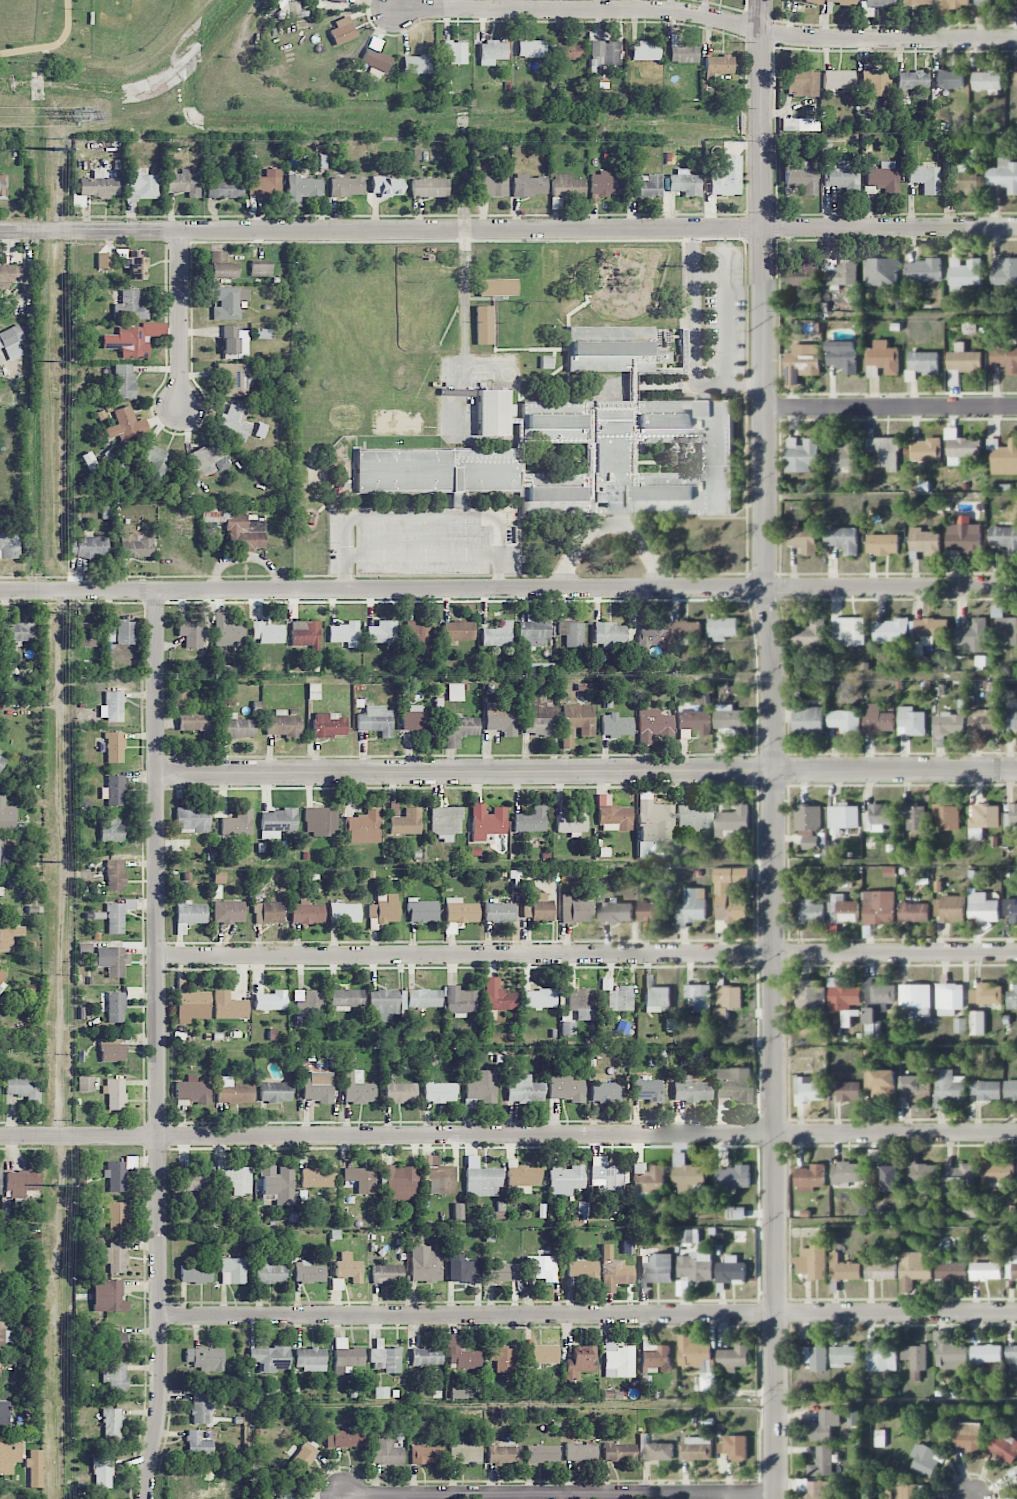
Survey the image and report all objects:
building: (344, 0)
building: (807, 2)
building: (841, 2)
building: (879, 2)
building: (917, 2)
building: (991, 2)
building: (1016, 3)
building: (949, 6)
building: (289, 9)
road: (707, 15)
building: (342, 31)
park: (89, 33)
building: (531, 48)
building: (569, 50)
building: (455, 51)
building: (645, 51)
building: (492, 52)
building: (604, 53)
building: (683, 54)
building: (376, 55)
building: (417, 64)
building: (719, 64)
building: (1014, 78)
building: (838, 79)
building: (950, 79)
building: (912, 80)
building: (876, 82)
building: (987, 82)
building: (802, 83)
power tower: (85, 115)
building: (799, 124)
power tower: (55, 150)
building: (1003, 175)
building: (726, 176)
building: (880, 176)
building: (802, 178)
building: (925, 178)
building: (842, 179)
building: (963, 181)
building: (184, 183)
building: (265, 183)
building: (492, 183)
building: (605, 183)
building: (684, 183)
building: (140, 184)
building: (98, 185)
building: (528, 185)
building: (645, 185)
building: (347, 186)
building: (385, 186)
building: (567, 186)
building: (3, 187)
building: (429, 187)
building: (225, 188)
building: (302, 189)
road: (508, 229)
building: (105, 260)
building: (133, 262)
building: (222, 265)
building: (261, 267)
building: (879, 269)
building: (841, 271)
building: (923, 271)
building: (1004, 272)
building: (9, 273)
building: (801, 273)
building: (964, 273)
building: (497, 287)
building: (229, 303)
building: (130, 306)
road: (727, 310)
road: (181, 322)
building: (483, 324)
road: (462, 326)
building: (11, 341)
road: (693, 341)
building: (128, 342)
building: (235, 342)
building: (612, 349)
building: (843, 356)
building: (883, 357)
building: (1006, 358)
power tower: (55, 360)
building: (963, 363)
building: (922, 364)
building: (799, 368)
building: (0, 375)
building: (234, 379)
building: (124, 381)
road: (765, 386)
road: (891, 408)
building: (492, 412)
building: (234, 423)
building: (123, 424)
building: (960, 448)
building: (926, 450)
building: (885, 451)
building: (842, 454)
building: (801, 455)
building: (1003, 457)
building: (206, 458)
building: (156, 460)
building: (436, 470)
building: (554, 493)
road: (608, 521)
building: (236, 526)
building: (802, 537)
building: (964, 538)
building: (1004, 538)
building: (843, 539)
building: (923, 542)
building: (883, 544)
building: (9, 545)
building: (88, 546)
building: (136, 546)
road: (423, 551)
road: (508, 590)
power tower: (55, 612)
building: (685, 629)
building: (723, 629)
building: (459, 630)
building: (891, 630)
building: (931, 630)
building: (17, 631)
building: (227, 631)
building: (849, 631)
building: (125, 632)
building: (267, 632)
building: (382, 632)
building: (571, 632)
building: (109, 633)
building: (190, 633)
building: (305, 633)
building: (345, 633)
building: (533, 633)
building: (85, 634)
building: (809, 634)
building: (419, 635)
building: (497, 635)
building: (609, 635)
building: (650, 636)
building: (972, 636)
building: (919, 656)
building: (539, 667)
building: (314, 691)
building: (454, 692)
building: (179, 699)
building: (112, 706)
building: (500, 717)
building: (538, 719)
building: (376, 720)
building: (420, 720)
building: (732, 720)
building: (808, 720)
building: (1010, 720)
building: (845, 721)
building: (878, 721)
building: (197, 722)
building: (575, 722)
building: (694, 722)
building: (911, 722)
building: (984, 722)
building: (282, 724)
building: (329, 725)
building: (615, 725)
building: (653, 726)
building: (236, 727)
building: (947, 727)
building: (459, 729)
building: (114, 747)
building: (2, 758)
road: (895, 771)
road: (465, 772)
building: (114, 790)
building: (613, 815)
building: (913, 815)
building: (946, 816)
building: (7, 817)
building: (878, 817)
building: (693, 818)
building: (808, 818)
building: (843, 818)
building: (1011, 819)
building: (193, 820)
building: (404, 820)
building: (530, 820)
building: (732, 820)
building: (983, 820)
building: (320, 821)
building: (486, 821)
building: (572, 821)
building: (277, 822)
building: (445, 822)
building: (238, 823)
building: (653, 826)
building: (363, 827)
building: (111, 830)
power tower: (55, 863)
building: (115, 874)
building: (1, 890)
building: (730, 894)
building: (692, 907)
building: (879, 907)
building: (384, 908)
building: (983, 908)
building: (539, 909)
building: (575, 909)
building: (843, 909)
building: (950, 909)
building: (1011, 909)
building: (421, 910)
building: (460, 911)
building: (615, 911)
building: (653, 911)
building: (809, 911)
building: (229, 912)
building: (268, 912)
building: (307, 912)
building: (499, 912)
building: (914, 912)
building: (344, 913)
building: (118, 915)
building: (189, 915)
building: (8, 935)
road: (587, 955)
building: (106, 958)
building: (3, 979)
building: (986, 994)
building: (498, 996)
building: (699, 996)
building: (424, 998)
building: (539, 998)
building: (620, 998)
building: (810, 998)
building: (949, 998)
building: (1012, 998)
building: (345, 999)
building: (460, 999)
building: (657, 999)
building: (843, 999)
building: (271, 1000)
building: (727, 1000)
building: (915, 1000)
building: (191, 1003)
building: (582, 1003)
building: (385, 1004)
building: (307, 1005)
building: (876, 1005)
building: (228, 1006)
building: (116, 1007)
building: (977, 1023)
building: (669, 1024)
building: (960, 1026)
building: (568, 1028)
road: (158, 1046)
building: (112, 1050)
building: (806, 1065)
building: (880, 1082)
building: (85, 1084)
building: (22, 1086)
building: (482, 1086)
building: (732, 1086)
building: (318, 1087)
building: (357, 1087)
building: (565, 1087)
building: (948, 1087)
building: (524, 1089)
building: (192, 1090)
building: (647, 1090)
building: (690, 1090)
building: (809, 1090)
building: (846, 1090)
building: (986, 1090)
building: (1010, 1090)
building: (234, 1091)
building: (916, 1091)
building: (275, 1092)
building: (401, 1092)
building: (440, 1092)
building: (606, 1092)
building: (115, 1093)
road: (508, 1135)
road: (776, 1135)
building: (997, 1171)
building: (920, 1174)
building: (687, 1175)
building: (847, 1175)
building: (116, 1176)
building: (605, 1176)
building: (317, 1177)
building: (439, 1177)
building: (732, 1177)
building: (810, 1177)
building: (198, 1178)
building: (482, 1178)
building: (524, 1178)
building: (564, 1178)
building: (648, 1178)
building: (891, 1178)
building: (958, 1178)
building: (236, 1179)
building: (361, 1179)
building: (22, 1181)
building: (0, 1182)
building: (402, 1182)
building: (278, 1183)
power tower: (55, 1185)
building: (971, 1210)
building: (736, 1213)
building: (116, 1217)
building: (687, 1236)
building: (114, 1257)
building: (811, 1262)
building: (424, 1264)
building: (696, 1266)
building: (348, 1268)
building: (464, 1268)
building: (541, 1268)
building: (581, 1268)
building: (656, 1268)
building: (844, 1269)
building: (949, 1269)
building: (1011, 1269)
building: (232, 1270)
building: (731, 1270)
building: (912, 1270)
building: (880, 1271)
building: (986, 1271)
building: (309, 1272)
building: (502, 1272)
building: (270, 1273)
building: (386, 1273)
building: (195, 1274)
building: (615, 1274)
building: (0, 1276)
building: (108, 1295)
road: (587, 1315)
building: (1, 1334)
building: (118, 1341)
building: (949, 1353)
building: (460, 1354)
building: (541, 1354)
building: (986, 1354)
building: (1011, 1354)
building: (845, 1355)
building: (346, 1356)
building: (655, 1356)
building: (271, 1357)
building: (426, 1357)
building: (205, 1358)
building: (385, 1358)
building: (502, 1358)
building: (733, 1358)
building: (816, 1358)
building: (881, 1358)
building: (310, 1359)
building: (915, 1359)
building: (581, 1360)
building: (618, 1360)
building: (698, 1360)
building: (0, 1367)
building: (115, 1377)
building: (202, 1407)
building: (4, 1414)
building: (111, 1423)
building: (823, 1427)
building: (966, 1436)
building: (346, 1438)
building: (880, 1438)
building: (198, 1443)
building: (735, 1447)
building: (1004, 1448)
building: (697, 1449)
building: (385, 1452)
building: (580, 1452)
building: (618, 1452)
building: (658, 1452)
building: (464, 1453)
building: (541, 1453)
building: (425, 1454)
building: (503, 1454)
building: (9, 1456)
building: (302, 1459)
building: (925, 1460)
building: (822, 1462)
building: (35, 1468)
building: (102, 1472)
building: (1013, 1472)
building: (819, 1491)
building: (909, 1491)
road: (559, 1495)
building: (285, 1496)
building: (1, 1497)
road: (340, 1497)
road: (973, 1498)

